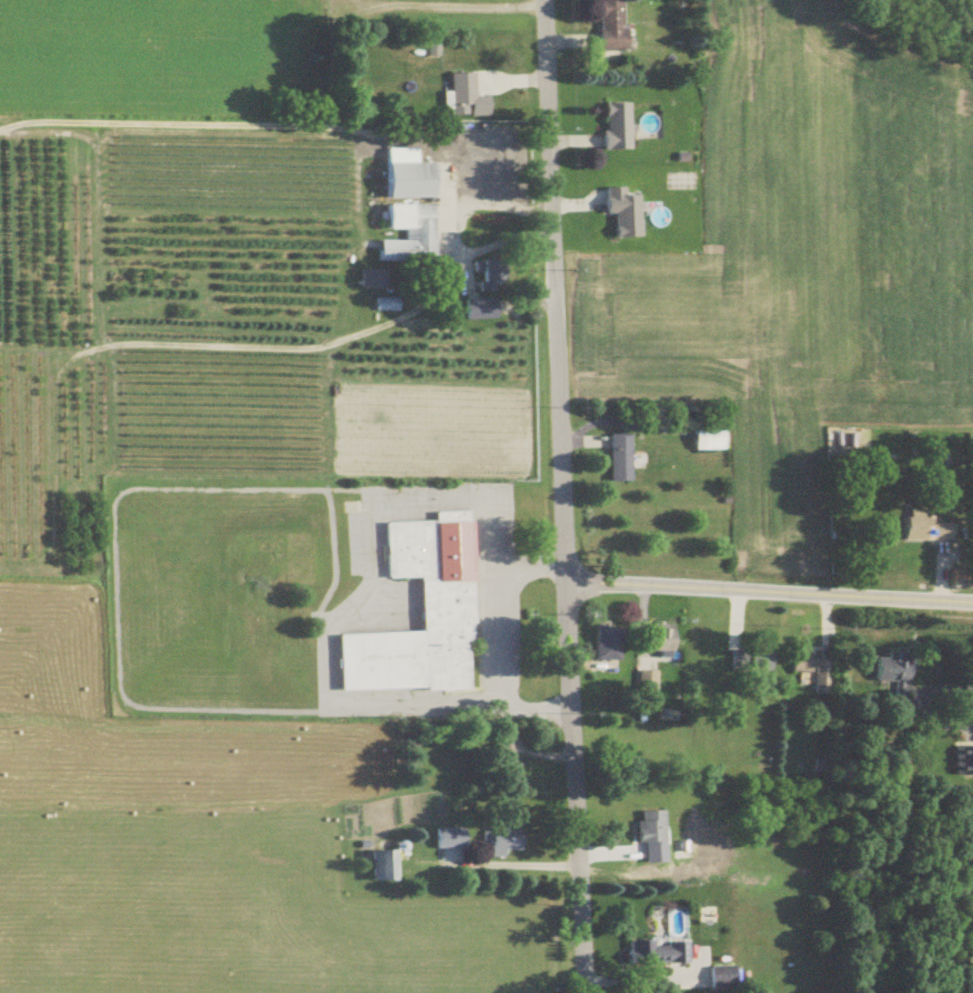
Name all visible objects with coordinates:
building: (607, 25)
building: (462, 97)
building: (613, 127)
building: (474, 166)
building: (405, 181)
road: (448, 231)
building: (419, 236)
building: (484, 276)
crop: (203, 281)
building: (383, 306)
road: (619, 426)
building: (703, 439)
building: (615, 458)
road: (562, 496)
building: (921, 530)
road: (769, 591)
building: (417, 615)
building: (655, 640)
road: (499, 641)
building: (603, 644)
road: (959, 650)
building: (755, 660)
building: (809, 672)
building: (890, 678)
building: (642, 681)
building: (500, 747)
building: (961, 762)
building: (506, 775)
building: (647, 827)
building: (445, 839)
building: (498, 841)
building: (380, 866)
road: (503, 867)
building: (653, 953)
road: (641, 977)
building: (719, 978)

